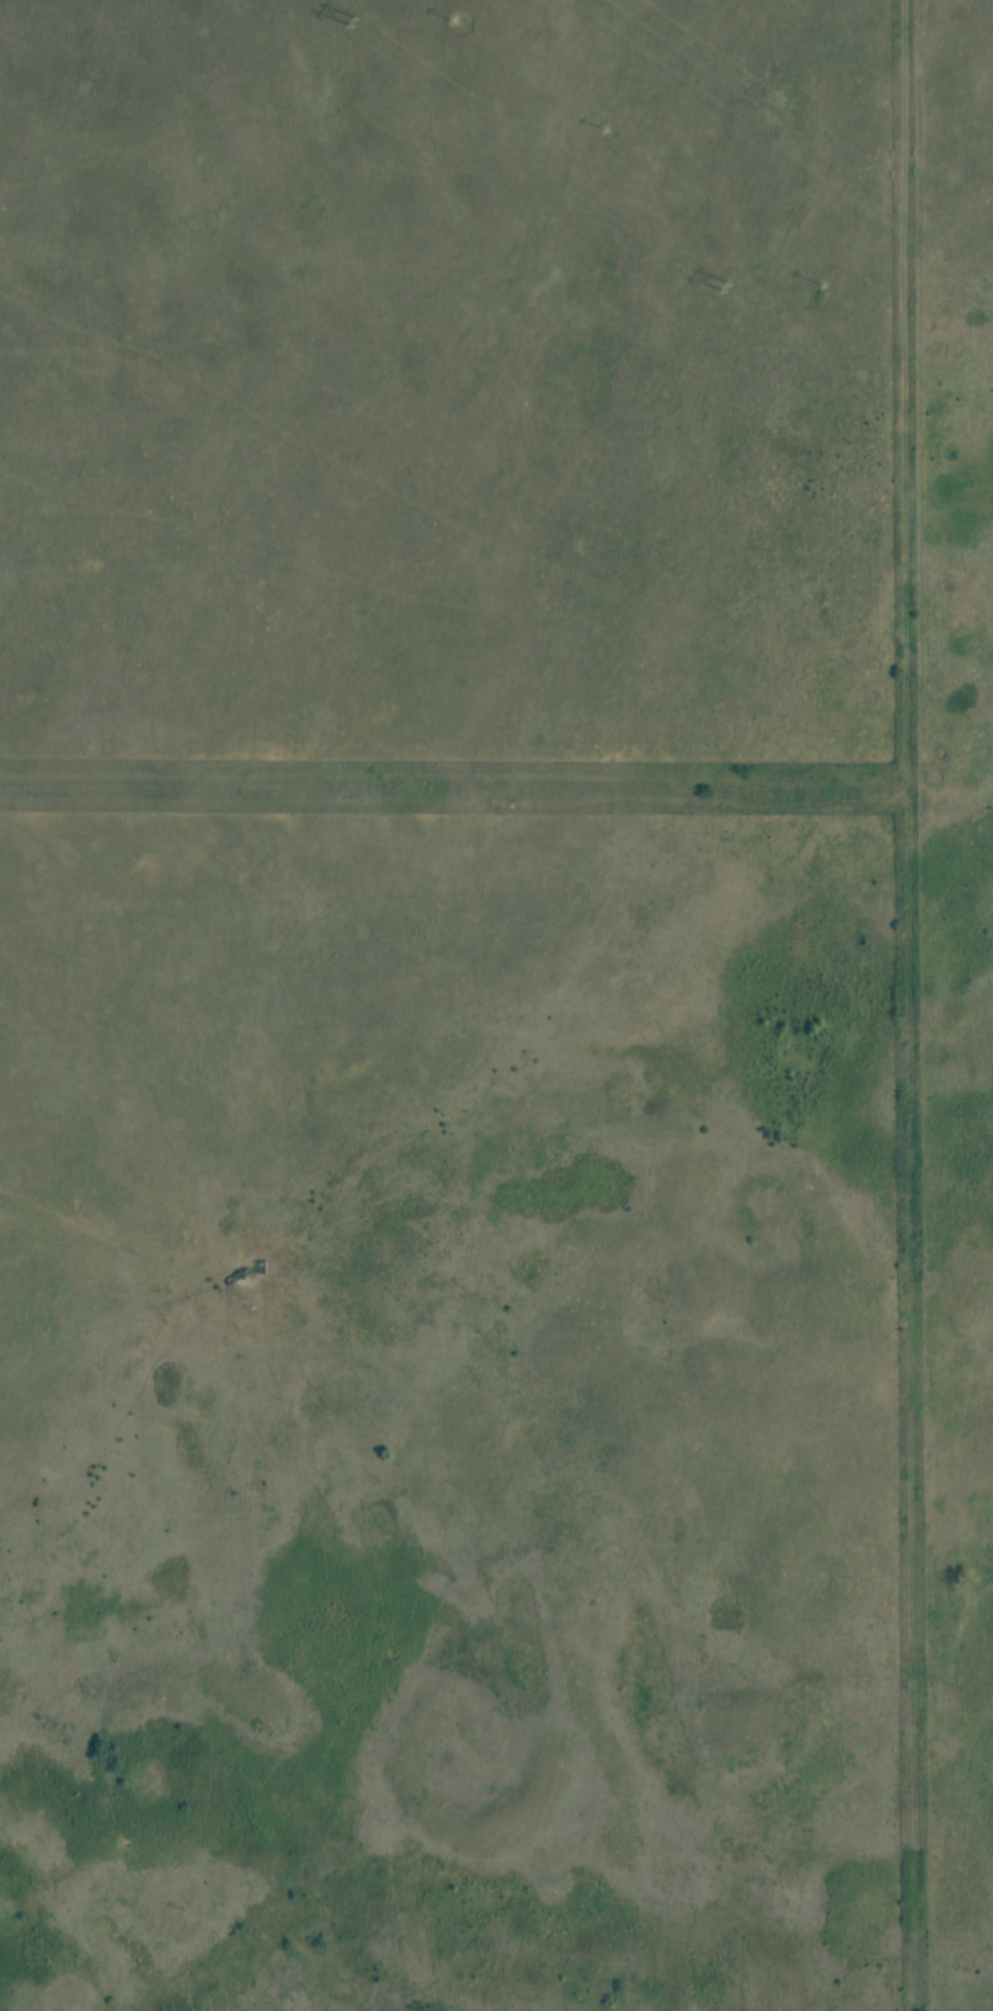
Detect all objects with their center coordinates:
road: (454, 769)

